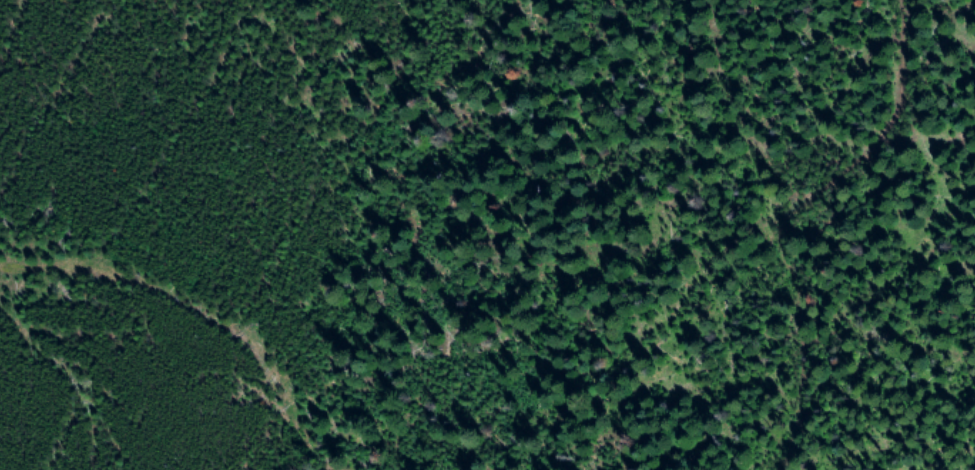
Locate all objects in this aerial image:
road: (833, 234)
road: (206, 331)

